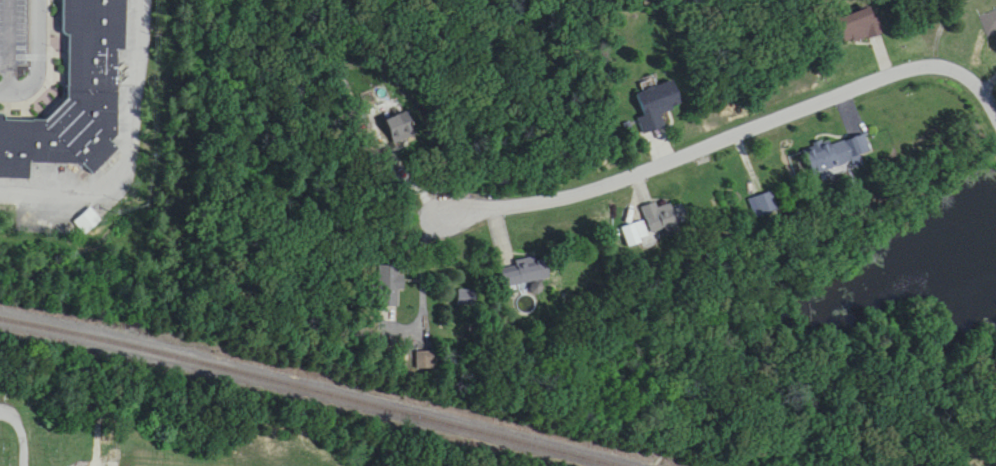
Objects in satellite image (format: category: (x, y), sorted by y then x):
building: (990, 20)
building: (859, 28)
road: (38, 58)
road: (989, 87)
building: (77, 96)
building: (657, 105)
building: (399, 129)
road: (733, 138)
road: (128, 151)
building: (831, 157)
building: (764, 206)
building: (655, 224)
building: (524, 276)
building: (387, 285)
railway: (332, 383)
road: (21, 429)
park: (145, 438)

